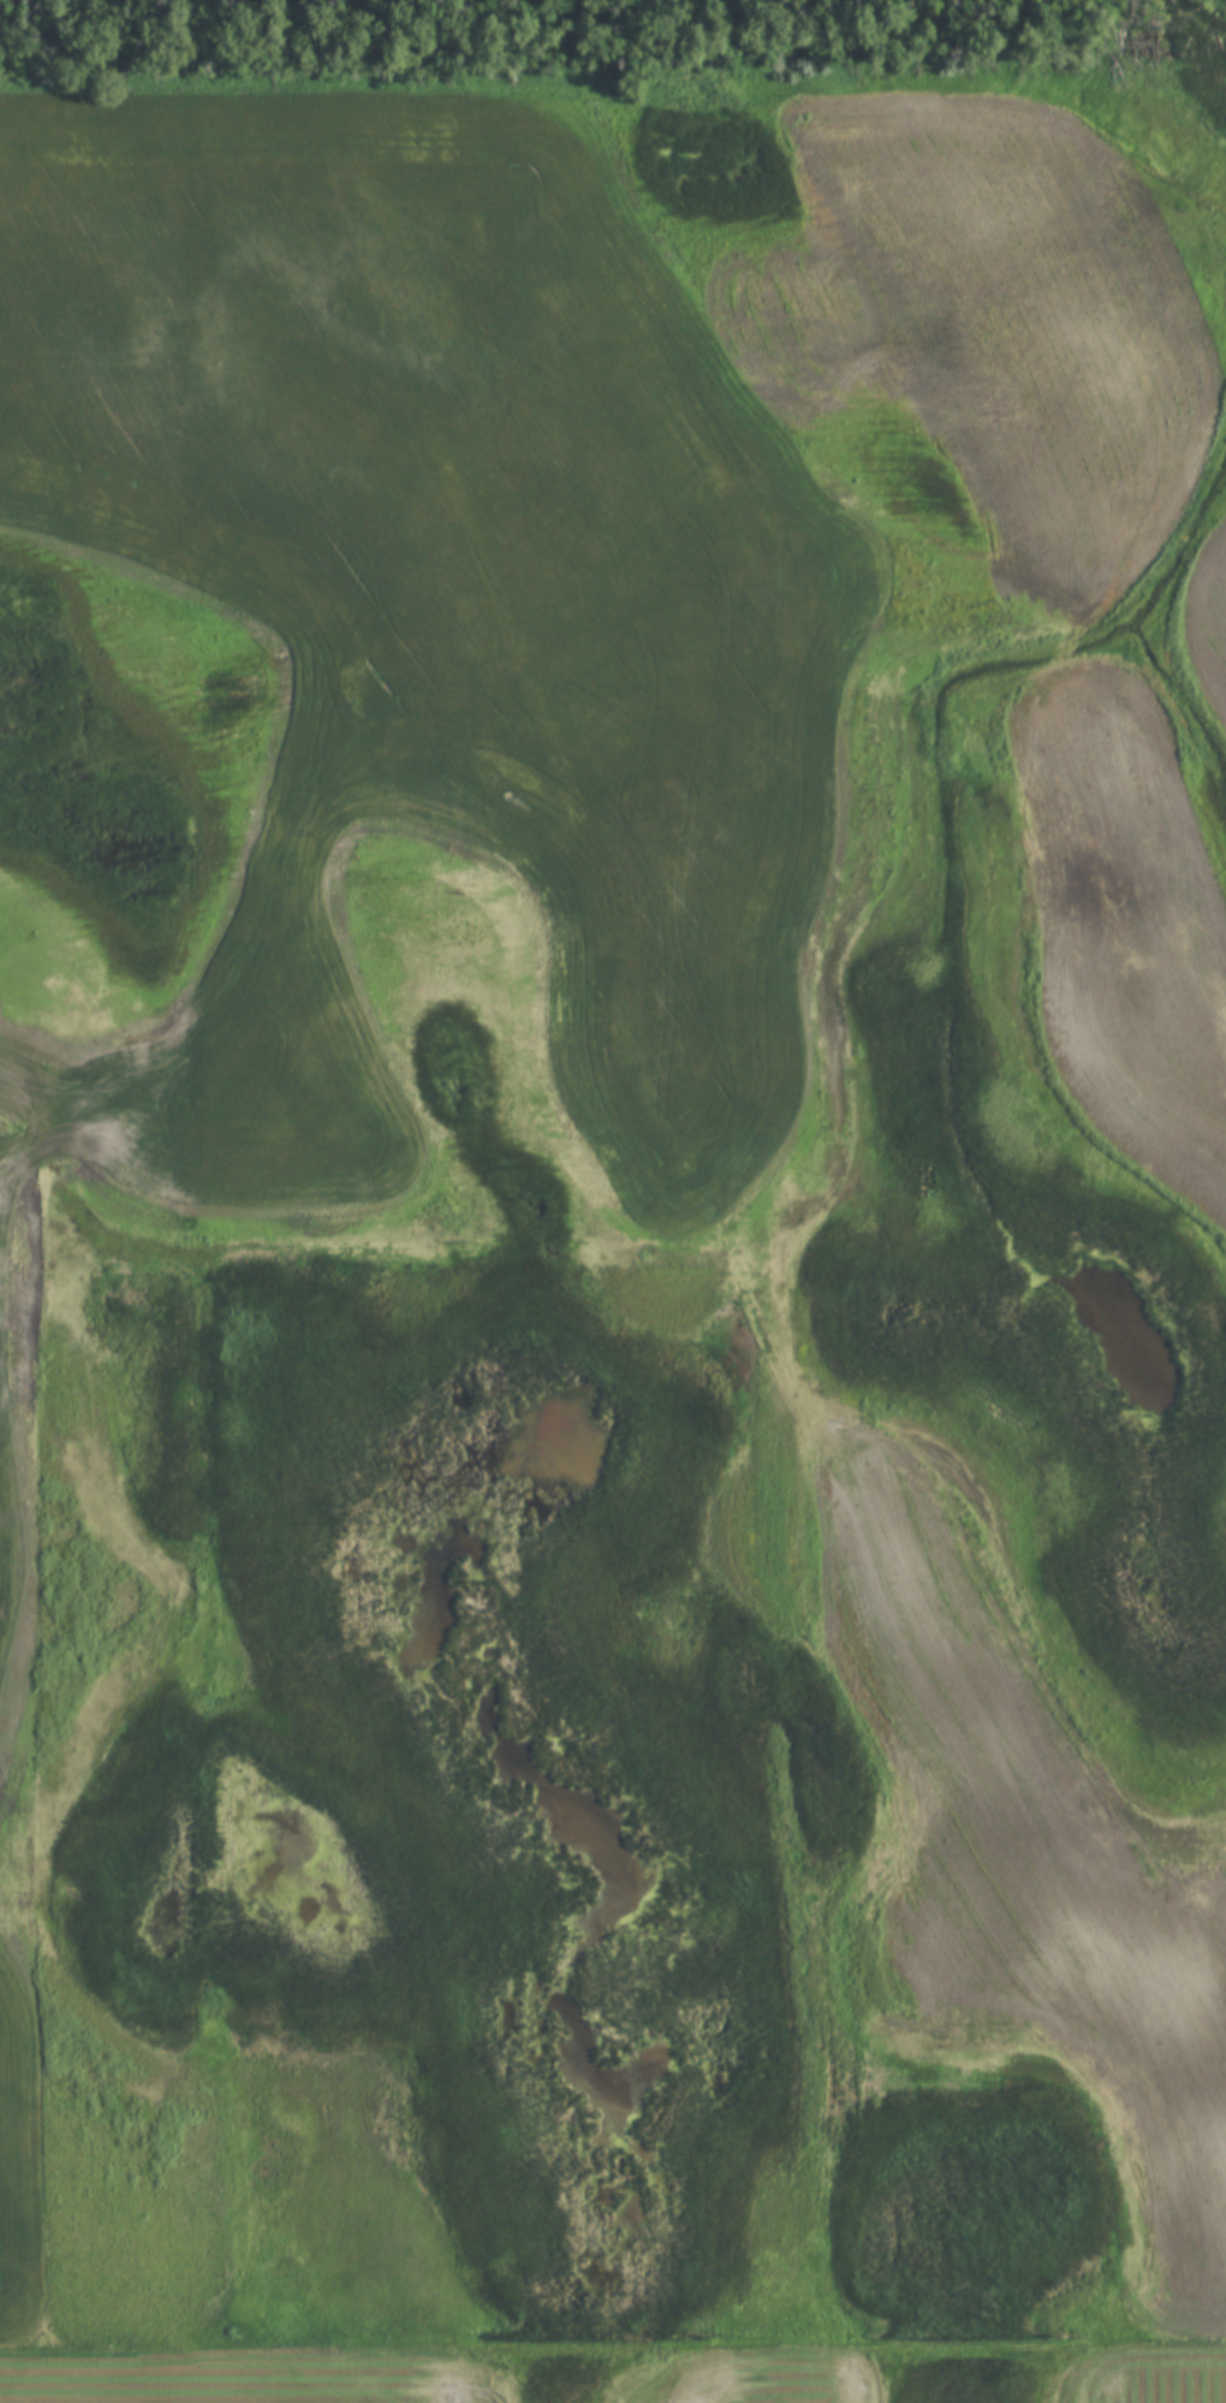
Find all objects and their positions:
road: (928, 2349)

